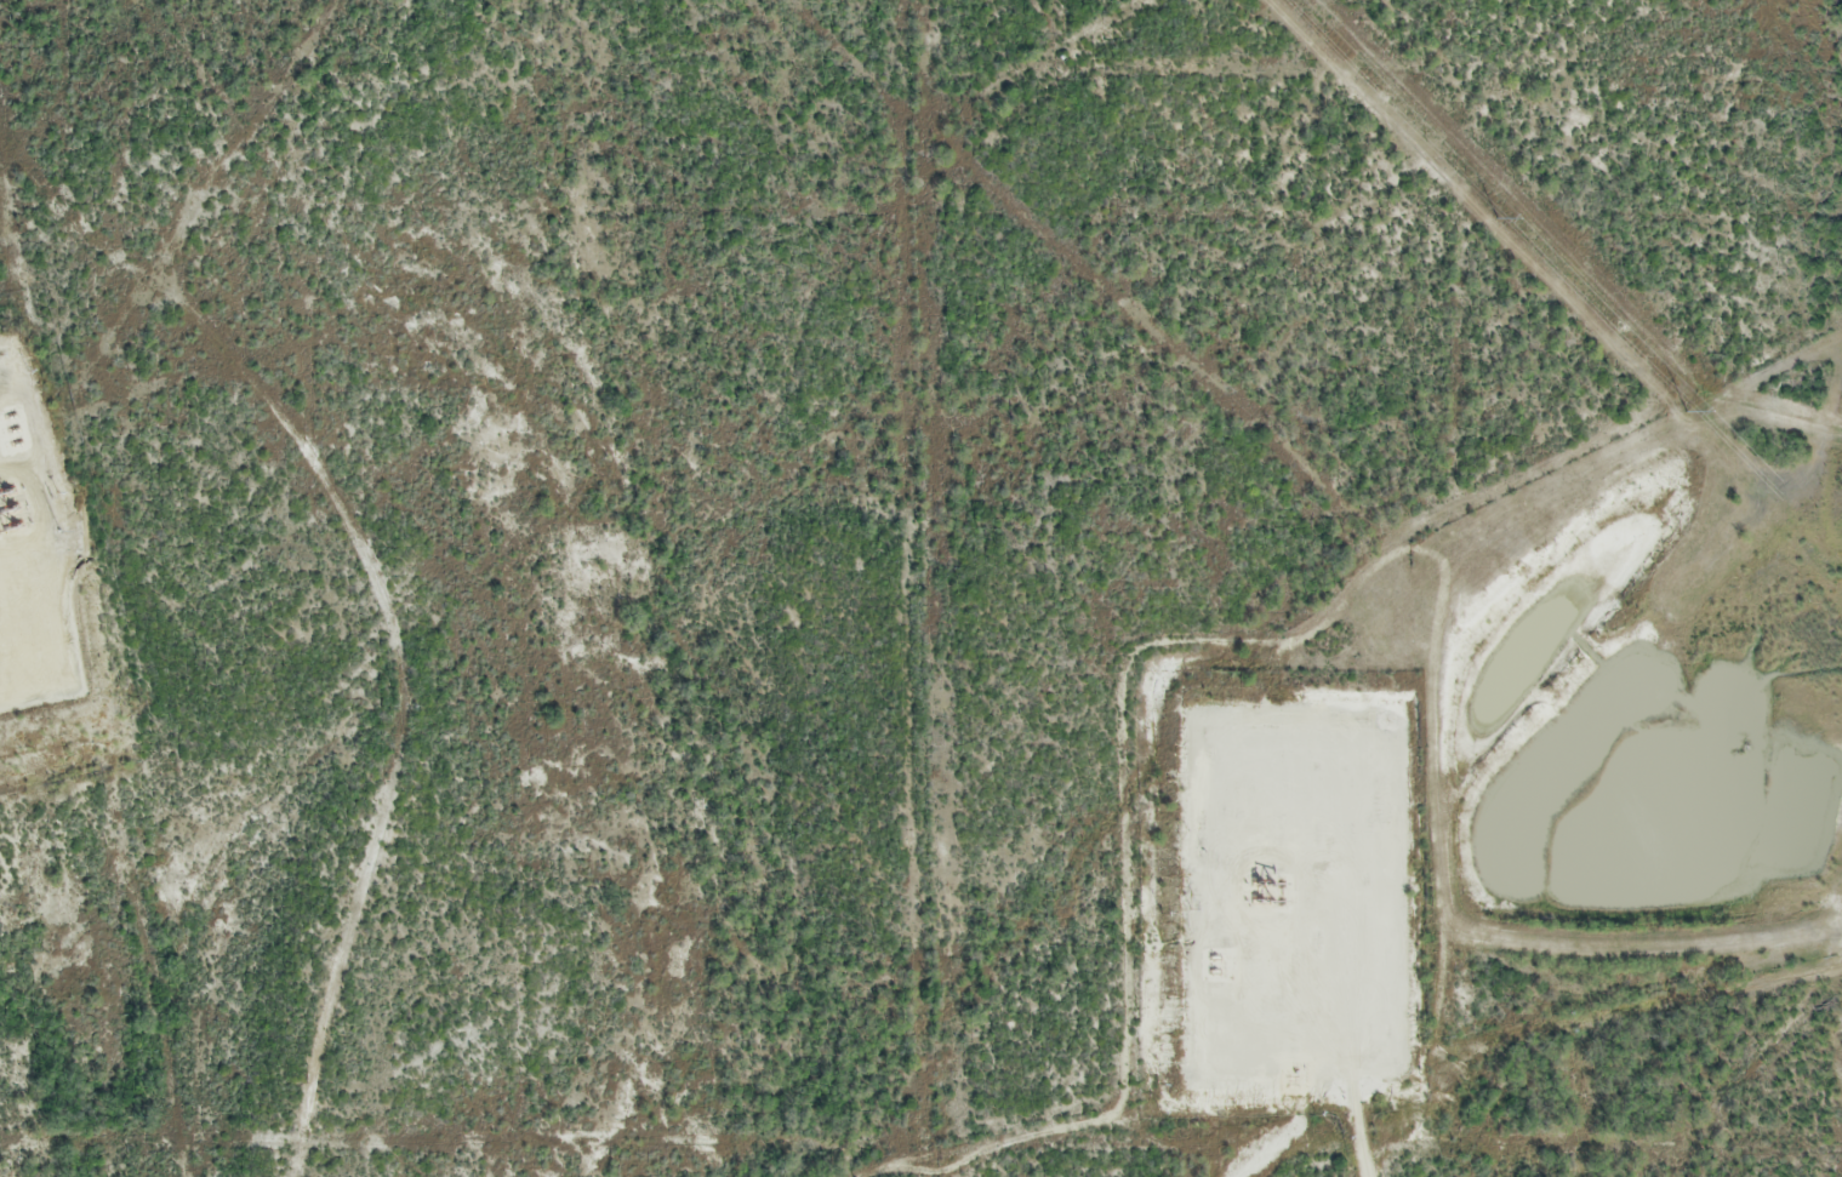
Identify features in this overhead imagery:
power tower: (1494, 222)
power tower: (1688, 412)

